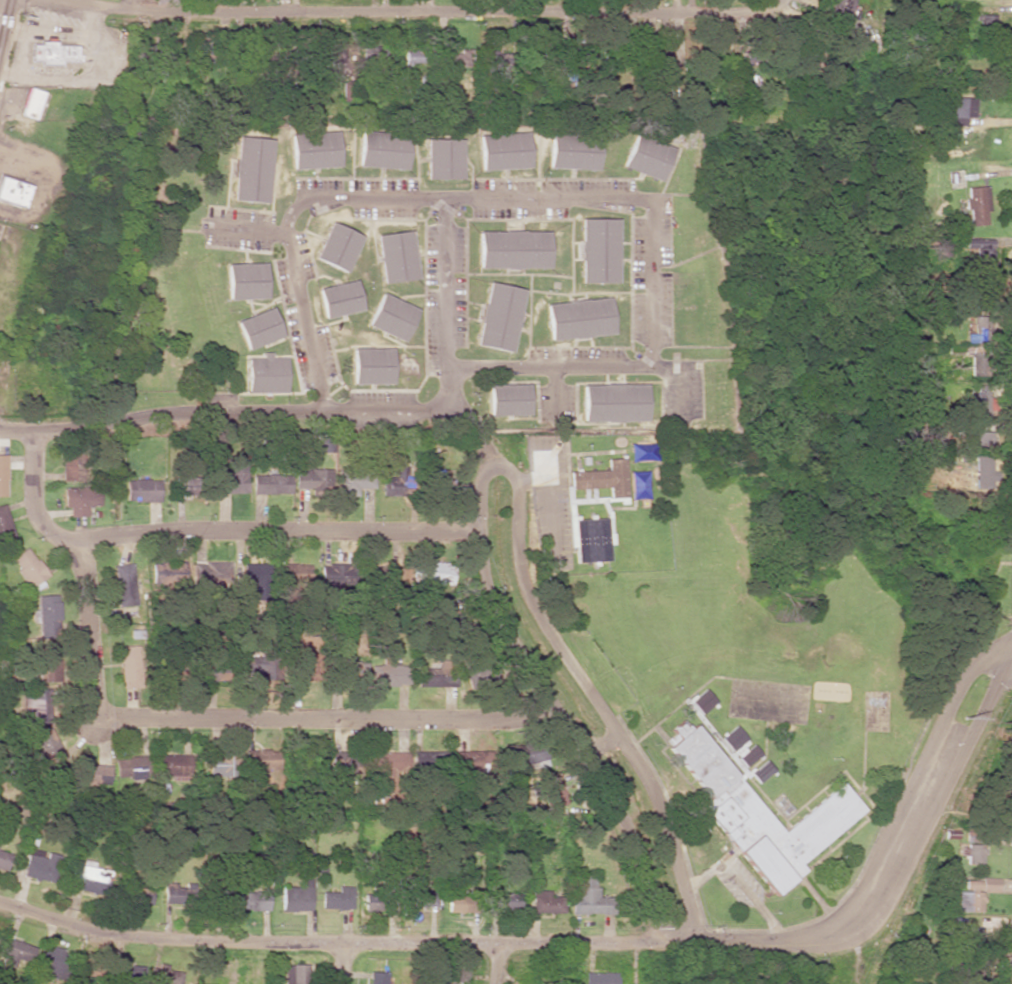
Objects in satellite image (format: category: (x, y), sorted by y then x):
road: (0, 2)
building: (842, 7)
road: (421, 15)
building: (986, 22)
building: (52, 53)
building: (372, 57)
building: (413, 57)
building: (459, 59)
building: (497, 61)
building: (31, 103)
building: (960, 110)
building: (384, 149)
building: (315, 150)
building: (504, 150)
building: (573, 151)
building: (646, 157)
building: (444, 158)
building: (251, 170)
building: (14, 192)
road: (499, 197)
building: (977, 205)
road: (562, 219)
parking lot: (237, 228)
road: (249, 229)
road: (311, 234)
road: (364, 237)
building: (337, 246)
building: (513, 249)
building: (598, 250)
road: (309, 252)
building: (981, 254)
building: (397, 256)
road: (551, 274)
building: (244, 280)
road: (550, 292)
road: (413, 295)
building: (339, 298)
road: (448, 302)
building: (393, 317)
building: (498, 317)
building: (578, 318)
building: (258, 328)
road: (379, 346)
road: (539, 346)
road: (426, 351)
road: (293, 357)
building: (372, 366)
road: (501, 366)
building: (266, 374)
road: (681, 380)
parking lot: (681, 389)
road: (554, 391)
building: (508, 399)
parking lot: (556, 403)
building: (614, 403)
building: (980, 403)
road: (240, 411)
road: (475, 422)
road: (17, 430)
building: (326, 444)
building: (644, 452)
building: (981, 455)
building: (73, 463)
building: (3, 475)
building: (313, 478)
building: (603, 478)
building: (233, 479)
building: (355, 482)
building: (398, 482)
building: (443, 483)
building: (271, 484)
building: (639, 485)
building: (185, 486)
building: (143, 490)
building: (81, 499)
building: (5, 524)
road: (274, 529)
building: (591, 539)
building: (29, 568)
building: (172, 569)
building: (211, 572)
building: (435, 573)
building: (295, 574)
building: (255, 577)
building: (124, 584)
building: (47, 615)
building: (47, 663)
building: (303, 663)
building: (130, 666)
building: (377, 671)
building: (438, 675)
road: (589, 692)
road: (548, 701)
building: (702, 702)
building: (38, 705)
road: (179, 718)
building: (50, 746)
building: (741, 747)
building: (432, 759)
building: (263, 760)
building: (472, 761)
building: (351, 762)
building: (218, 763)
building: (524, 763)
building: (389, 765)
building: (174, 766)
building: (132, 768)
building: (761, 772)
building: (94, 775)
building: (553, 791)
building: (760, 814)
building: (59, 825)
building: (974, 854)
building: (4, 860)
building: (37, 865)
building: (89, 880)
building: (982, 885)
building: (140, 895)
building: (297, 897)
building: (589, 897)
building: (337, 899)
building: (425, 899)
building: (254, 901)
building: (505, 901)
building: (965, 901)
building: (545, 902)
building: (374, 903)
building: (458, 904)
building: (969, 935)
road: (587, 943)
building: (16, 952)
building: (53, 963)
road: (342, 964)
road: (497, 964)
building: (91, 971)
building: (127, 972)
building: (296, 974)
building: (166, 975)
building: (377, 978)
building: (599, 978)

